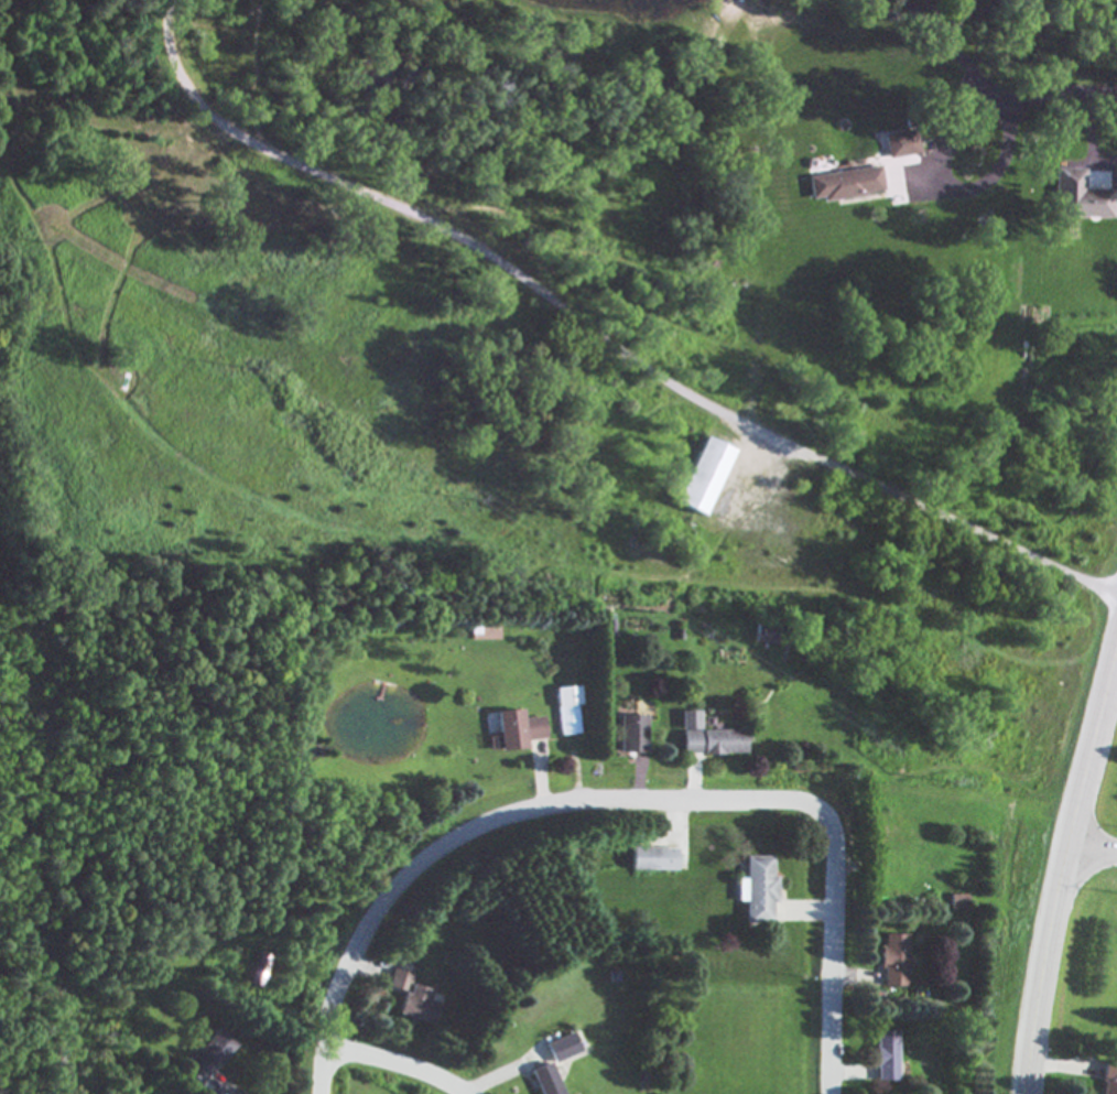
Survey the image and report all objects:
road: (950, 50)
road: (1056, 94)
road: (1092, 134)
building: (901, 144)
building: (845, 184)
road: (958, 188)
building: (1077, 197)
road: (603, 334)
building: (701, 477)
building: (565, 711)
building: (514, 729)
building: (630, 734)
building: (706, 738)
road: (630, 795)
road: (1092, 848)
building: (650, 859)
road: (1062, 869)
building: (755, 890)
building: (892, 961)
building: (259, 970)
building: (397, 981)
building: (414, 1005)
building: (560, 1048)
building: (885, 1057)
building: (205, 1058)
road: (400, 1060)
building: (1109, 1079)
building: (543, 1080)

